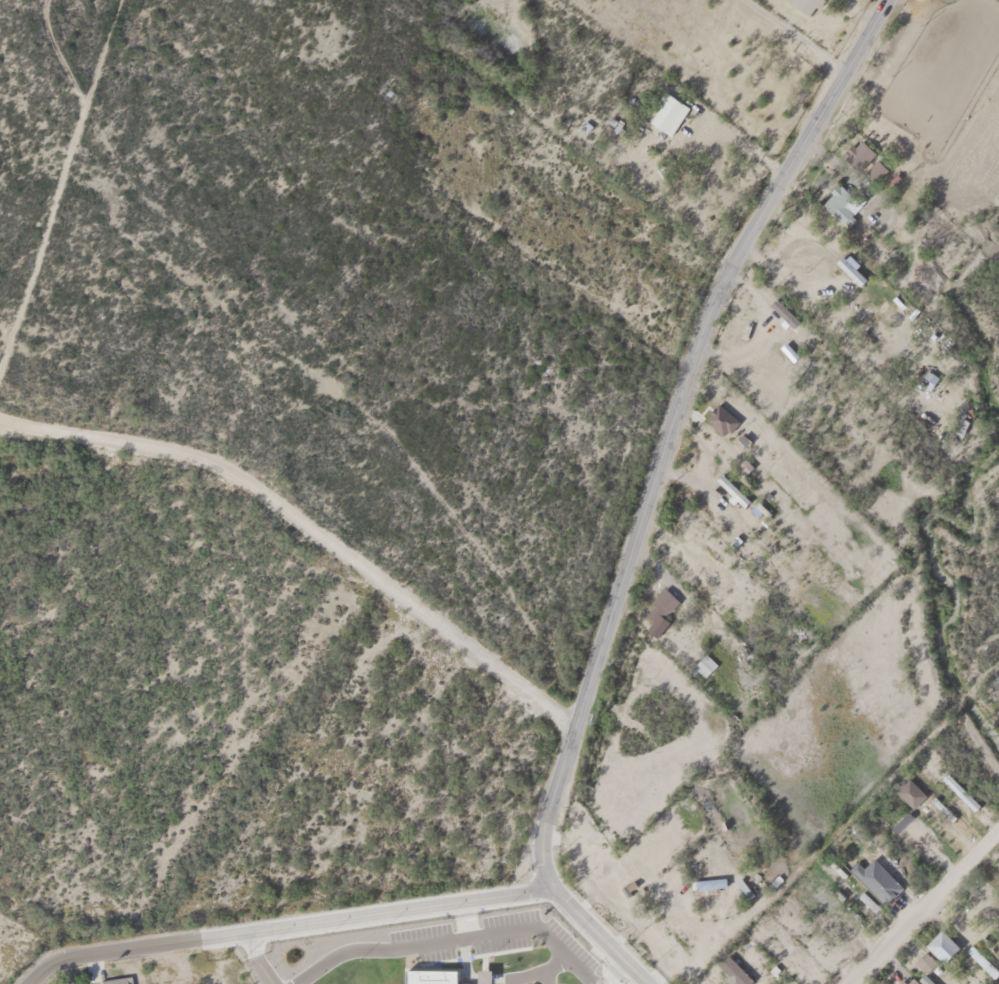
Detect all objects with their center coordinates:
building: (805, 4)
road: (57, 6)
building: (384, 94)
building: (665, 110)
building: (863, 155)
building: (839, 199)
road: (183, 225)
building: (926, 375)
building: (718, 415)
building: (728, 487)
road: (646, 491)
road: (311, 524)
building: (658, 603)
building: (702, 661)
building: (998, 689)
building: (957, 788)
building: (908, 790)
building: (873, 876)
building: (706, 882)
road: (920, 905)
road: (283, 927)
road: (446, 941)
building: (940, 943)
building: (923, 958)
road: (251, 959)
building: (731, 968)
road: (610, 973)
building: (429, 974)
building: (481, 975)
building: (113, 979)
building: (914, 979)

